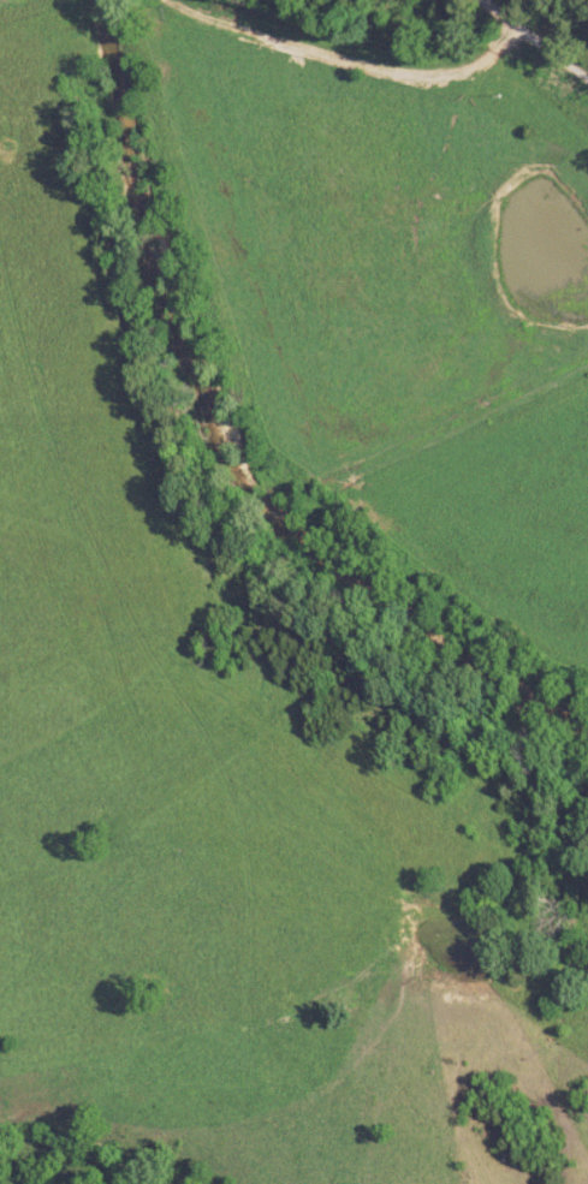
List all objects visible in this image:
road: (535, 32)

